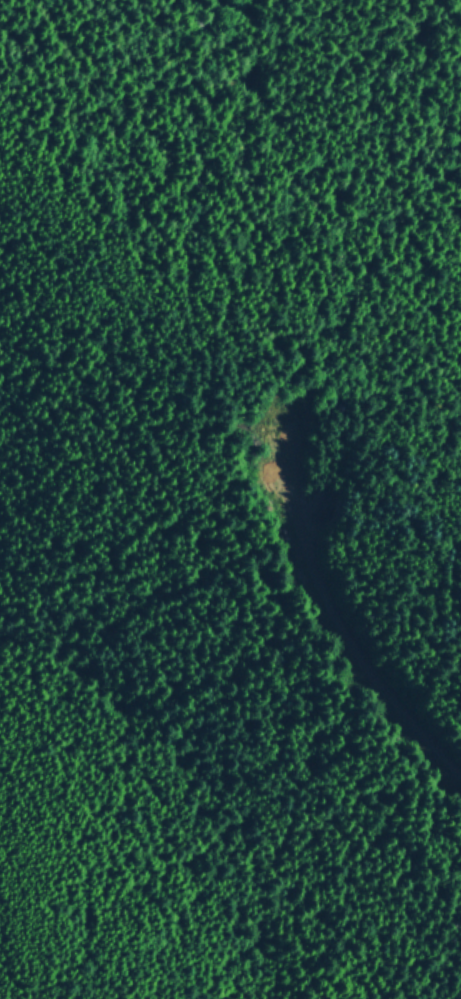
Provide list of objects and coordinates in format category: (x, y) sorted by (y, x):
road: (350, 617)

